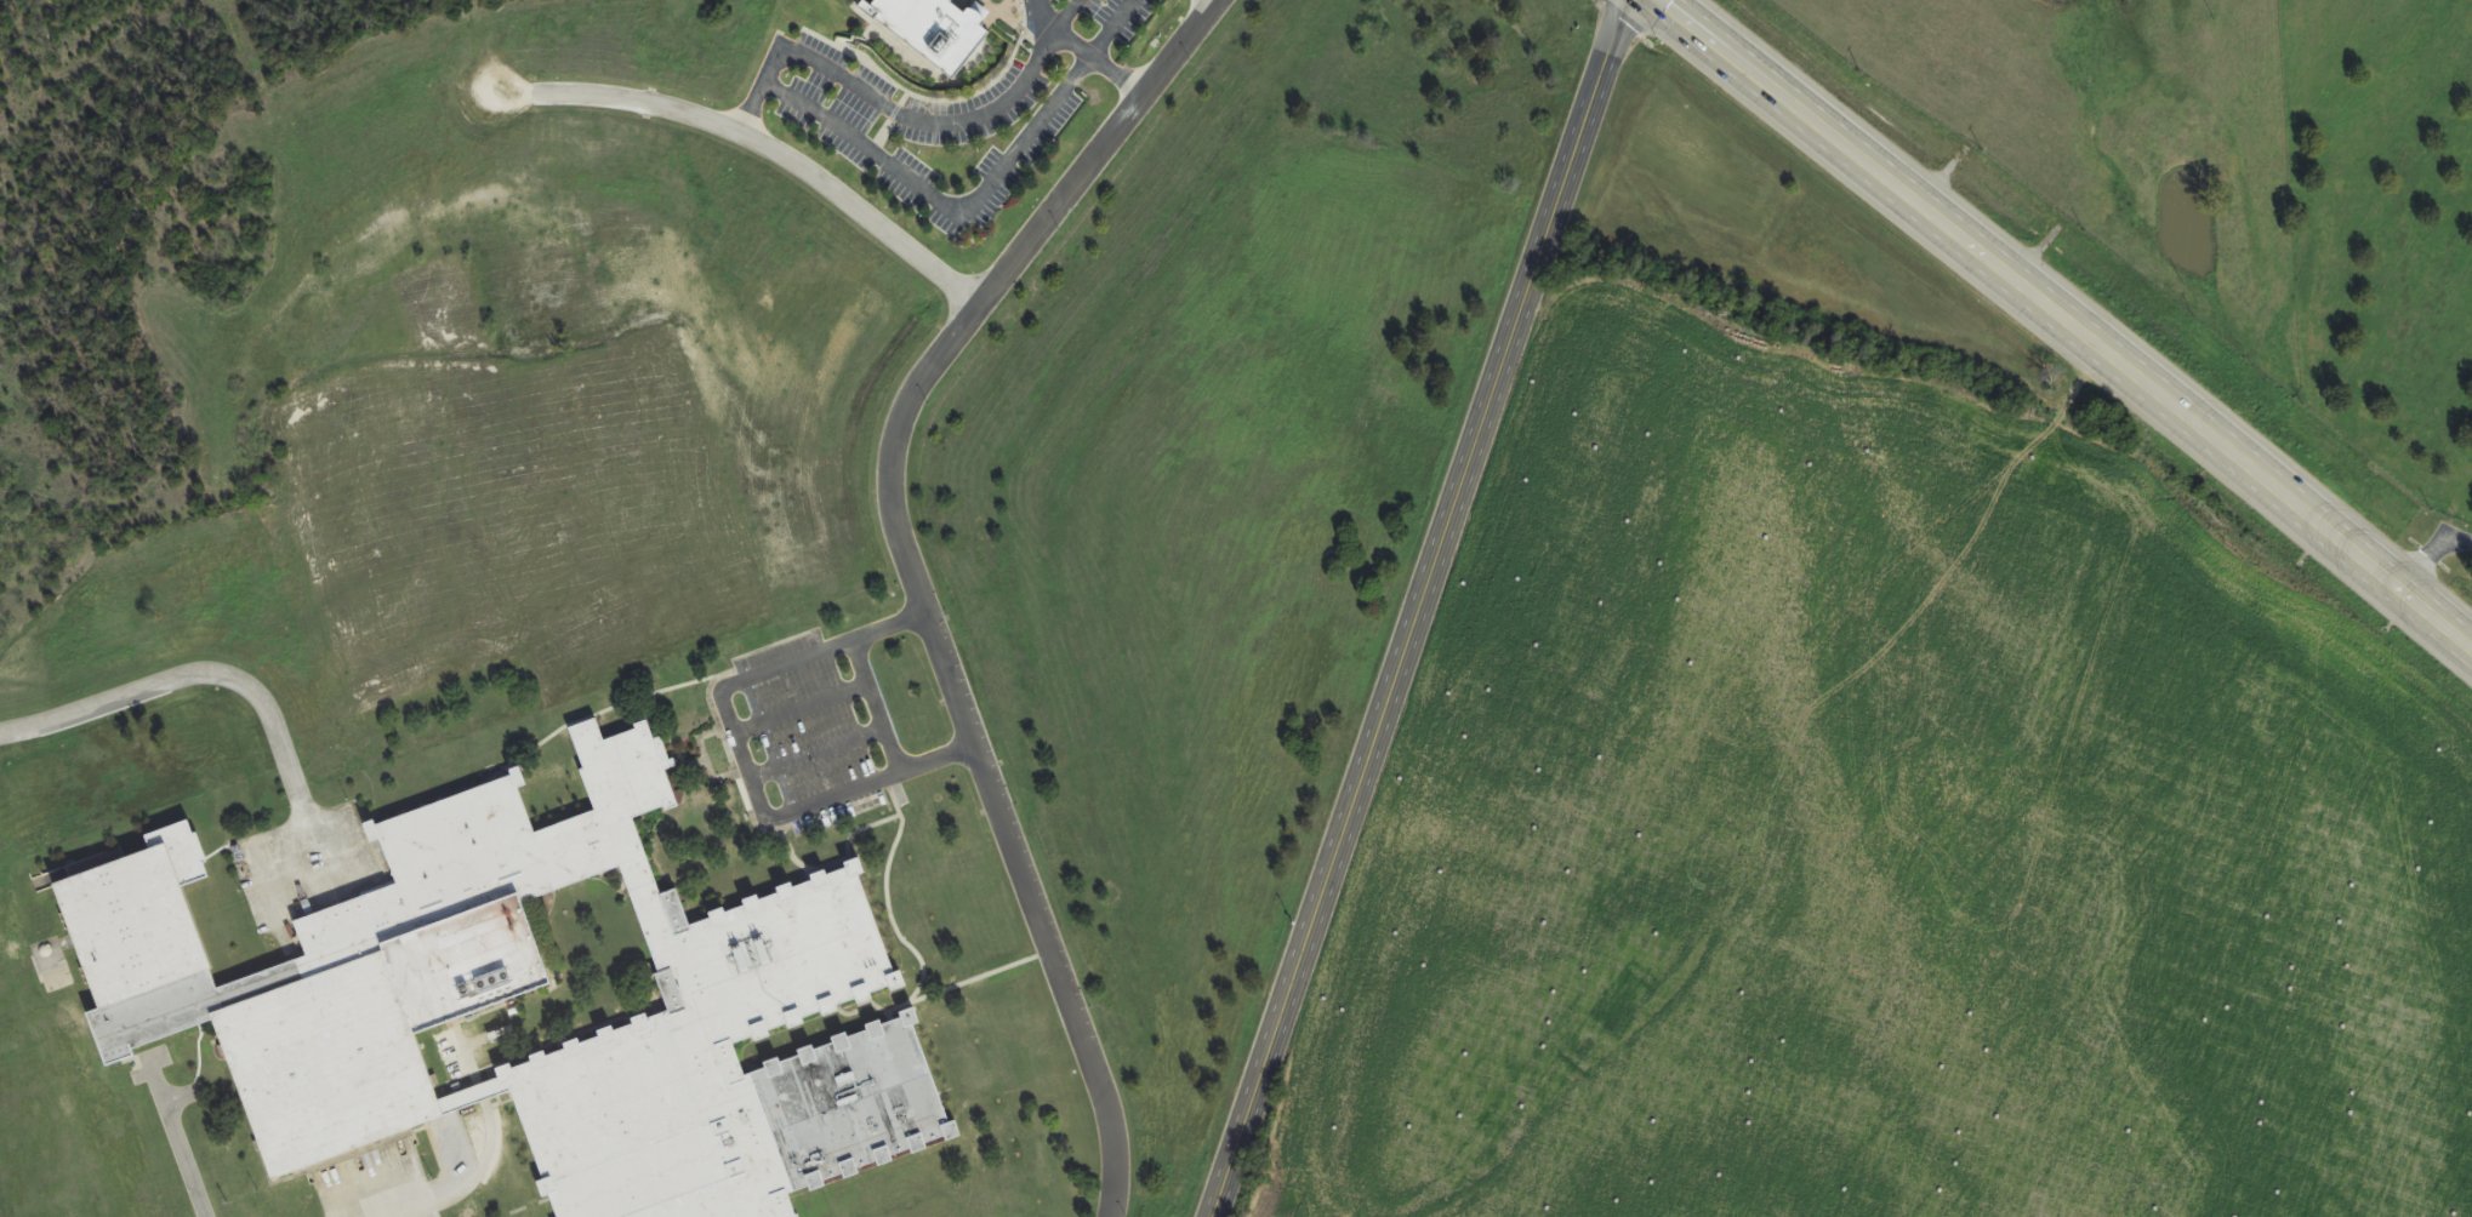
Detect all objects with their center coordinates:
road: (1063, 13)
building: (935, 30)
road: (1083, 52)
road: (910, 116)
road: (761, 144)
road: (953, 212)
road: (2063, 319)
road: (2430, 553)
road: (925, 573)
road: (1422, 608)
road: (188, 674)
road: (875, 705)
road: (798, 708)
parking lot: (808, 726)
road: (815, 753)
road: (739, 755)
road: (315, 899)
building: (537, 1005)
road: (438, 1122)
road: (177, 1138)
road: (466, 1183)
parking lot: (381, 1184)

